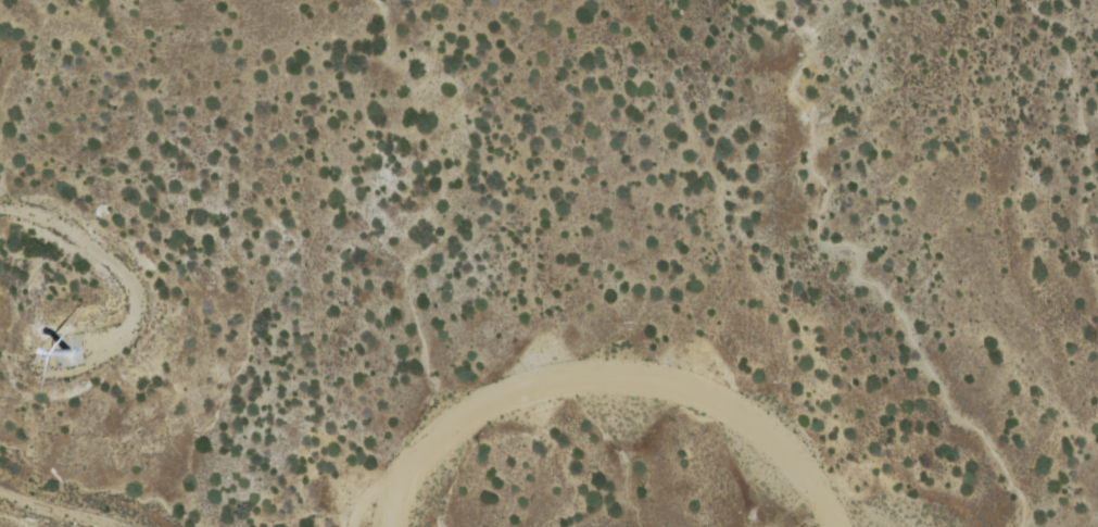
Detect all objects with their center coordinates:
wind turbine: (75, 354)

